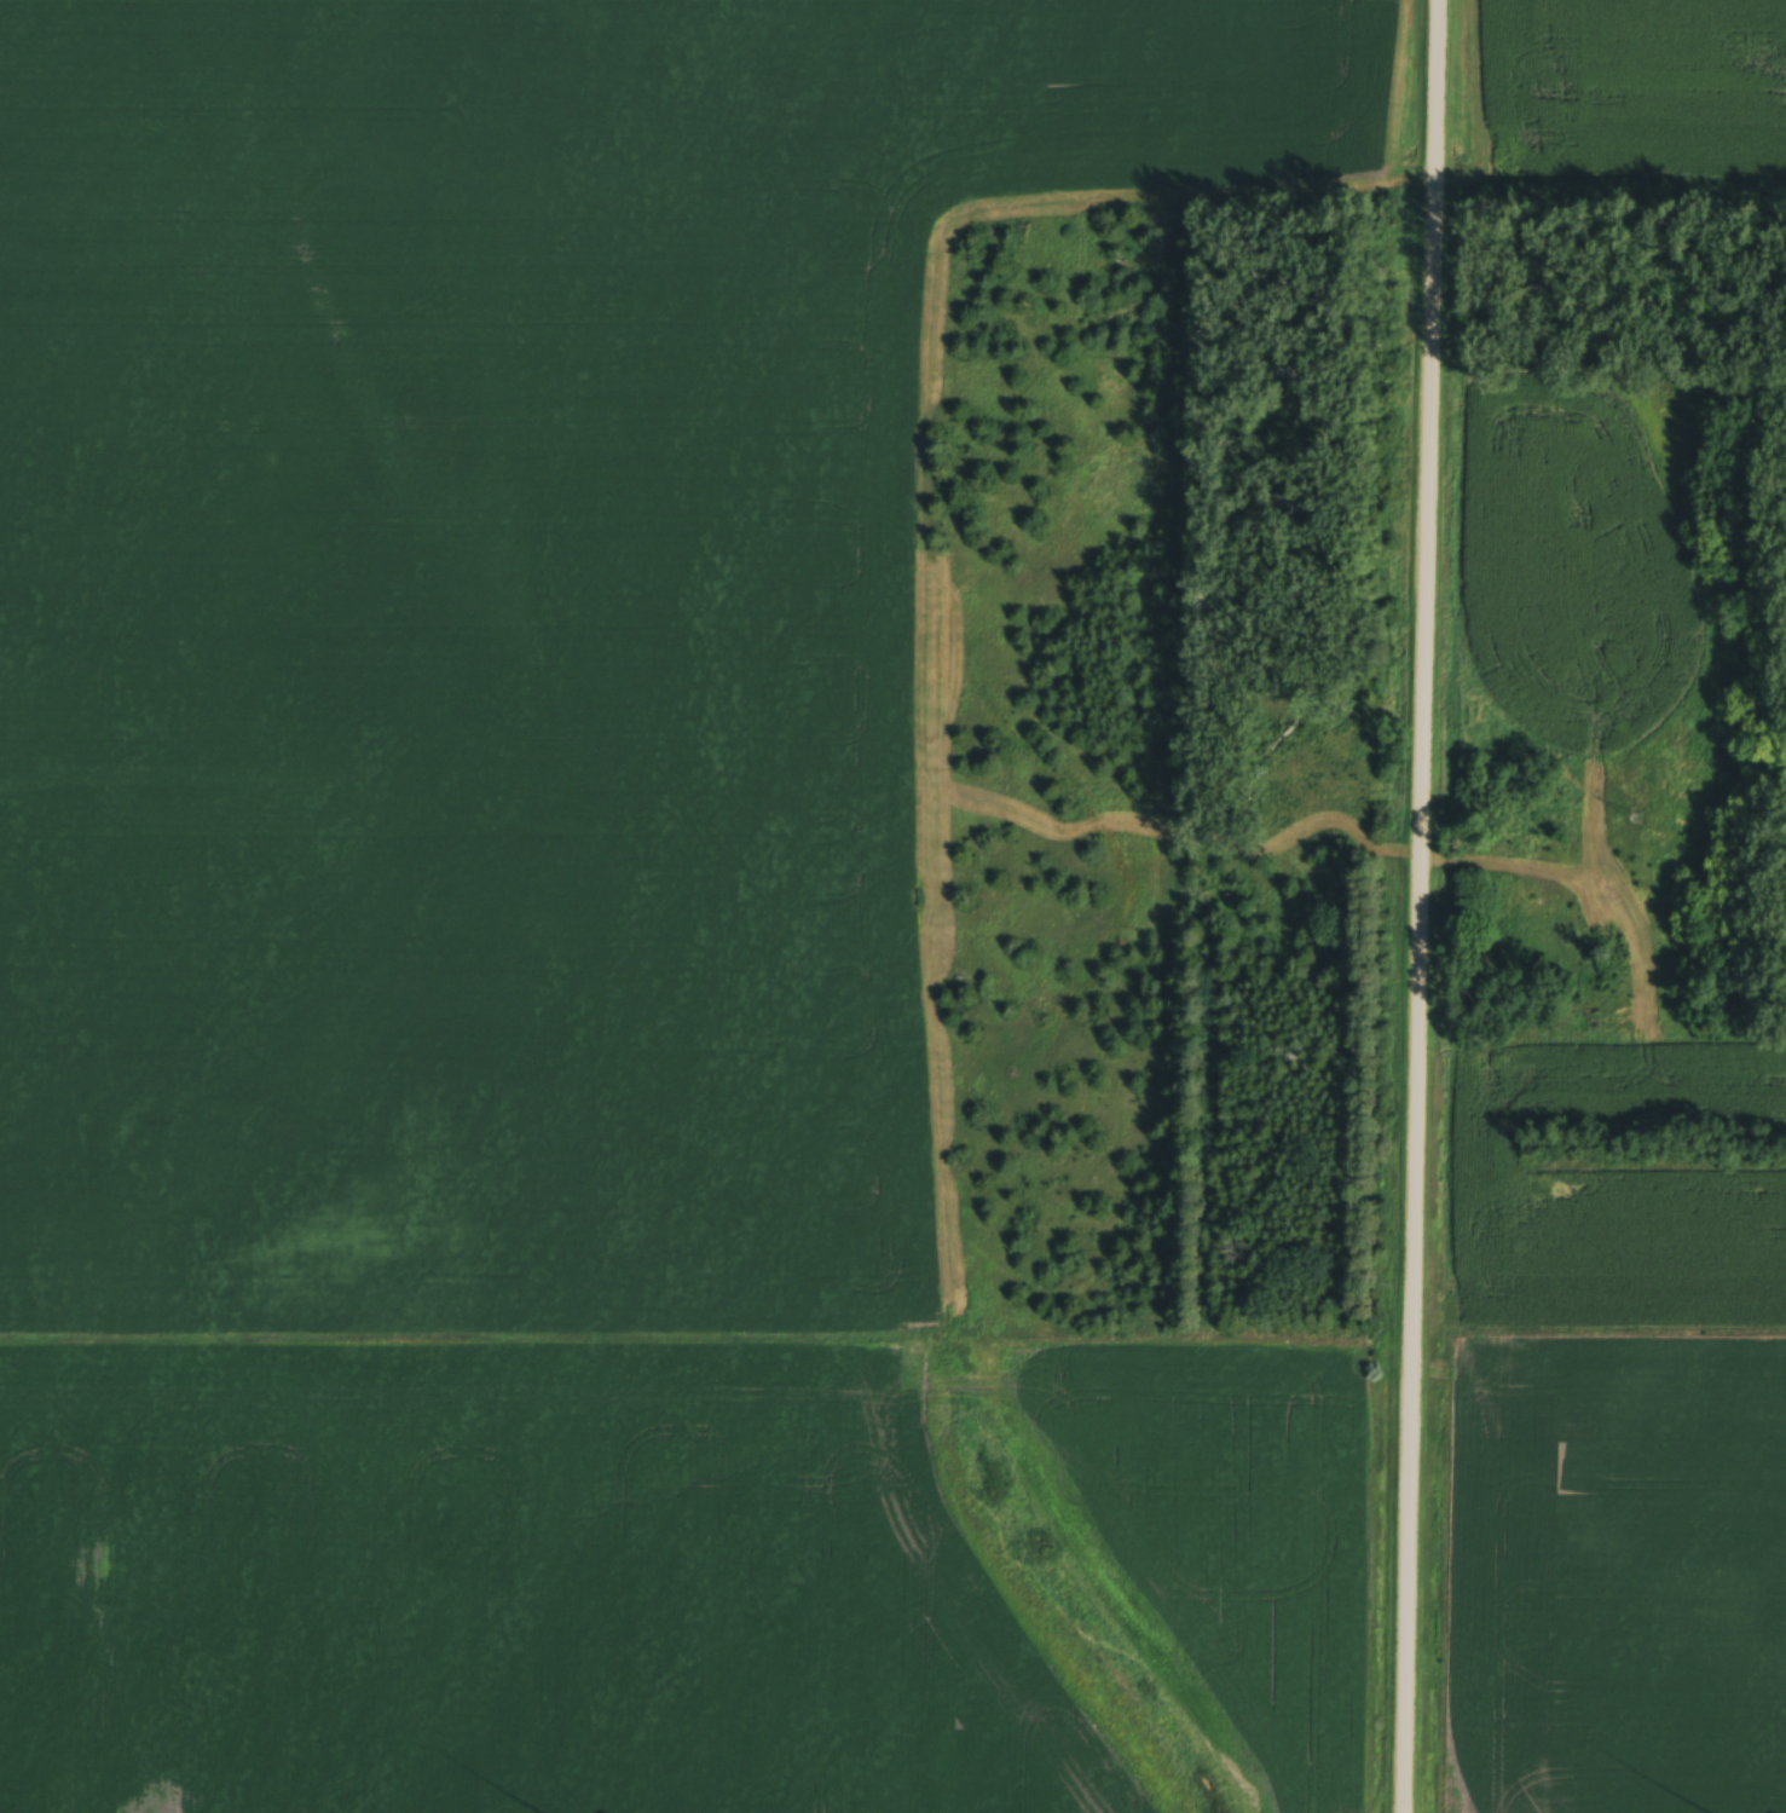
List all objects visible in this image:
road: (1423, 906)

